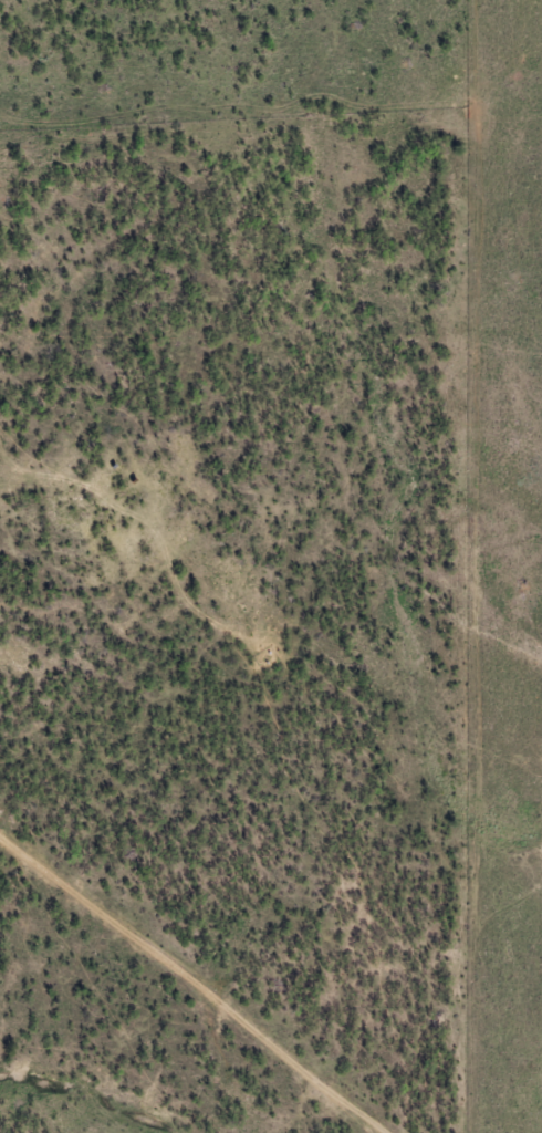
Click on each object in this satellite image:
road: (201, 970)

